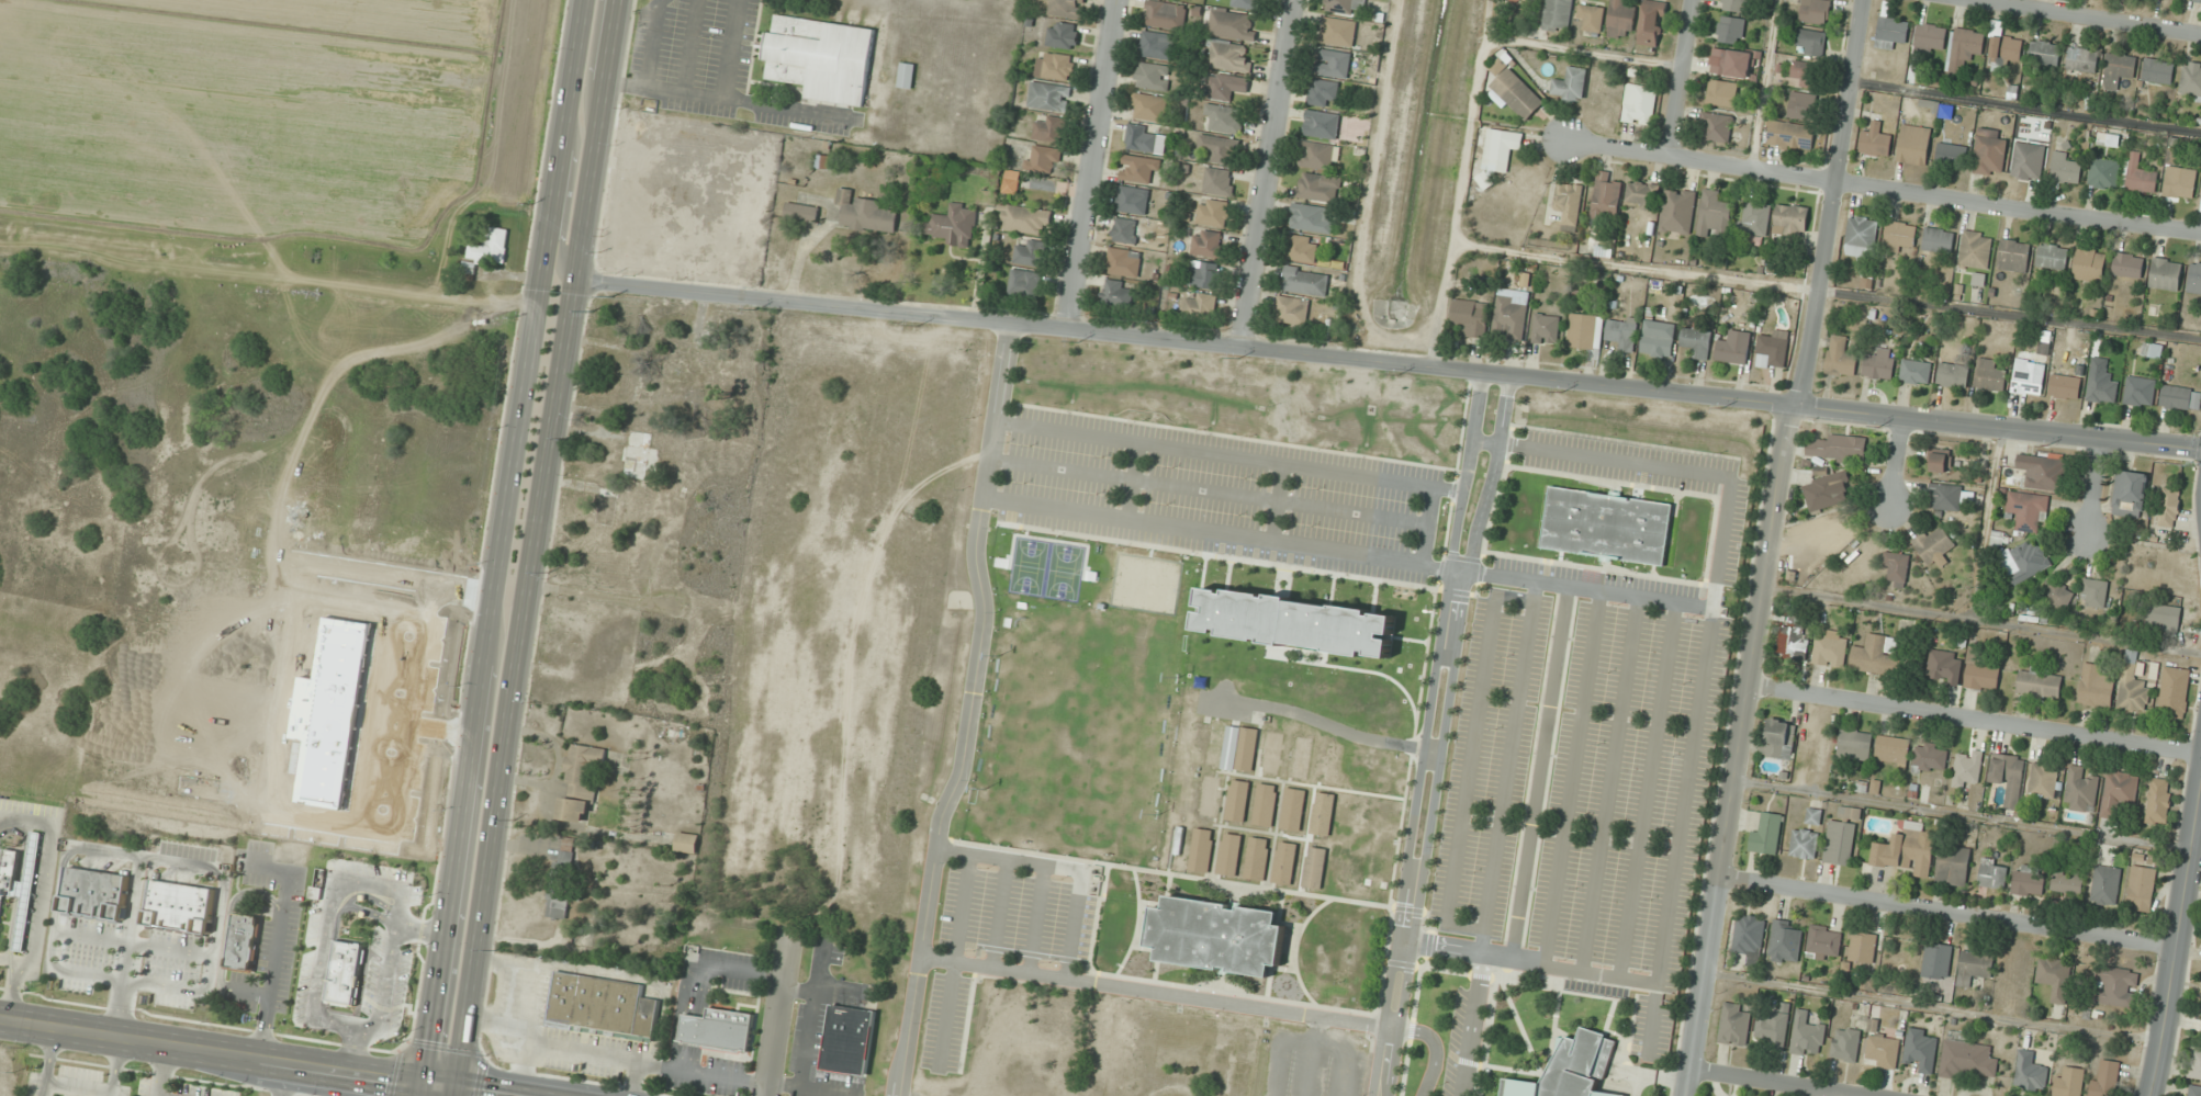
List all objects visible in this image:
building: (1515, 1)
building: (2198, 1)
building: (1247, 3)
building: (1736, 4)
building: (1346, 7)
building: (1067, 8)
building: (1816, 11)
building: (1166, 14)
building: (1558, 15)
road: (2088, 16)
building: (1592, 18)
building: (1620, 20)
building: (1652, 23)
building: (1232, 24)
building: (1730, 30)
building: (1339, 32)
building: (1890, 32)
building: (1064, 35)
building: (1929, 37)
building: (1811, 42)
building: (1157, 45)
building: (1963, 49)
building: (2006, 49)
road: (1583, 52)
building: (2044, 53)
building: (1228, 56)
building: (822, 58)
building: (2082, 58)
road: (592, 59)
building: (1334, 63)
building: (1734, 63)
building: (1056, 66)
building: (2118, 69)
building: (2157, 70)
building: (1804, 74)
building: (907, 75)
building: (1153, 76)
road: (1678, 78)
building: (2191, 80)
building: (1570, 84)
road: (1762, 84)
building: (1227, 86)
building: (1324, 92)
building: (1722, 92)
building: (1515, 93)
building: (1049, 97)
building: (1640, 104)
building: (1803, 105)
road: (2026, 105)
building: (1149, 106)
building: (1225, 117)
building: (1322, 124)
building: (1716, 126)
building: (1049, 127)
building: (1792, 135)
building: (1142, 138)
building: (1875, 140)
building: (1503, 144)
building: (1913, 144)
building: (1221, 148)
building: (1989, 152)
building: (1316, 155)
building: (1952, 155)
building: (1043, 159)
building: (2028, 160)
road: (1091, 166)
building: (2065, 168)
building: (1141, 169)
road: (1270, 174)
building: (2103, 176)
building: (2140, 176)
building: (2178, 176)
building: (1219, 181)
building: (1012, 182)
road: (1461, 184)
building: (1318, 187)
road: (1884, 190)
building: (1642, 194)
building: (1607, 197)
building: (1133, 200)
road: (566, 201)
building: (1569, 204)
building: (1677, 211)
building: (1213, 212)
building: (802, 213)
building: (866, 214)
building: (1715, 215)
building: (1755, 216)
building: (1312, 217)
building: (1025, 218)
building: (1792, 221)
building: (953, 224)
building: (1125, 230)
building: (1862, 234)
building: (1899, 236)
building: (1938, 240)
building: (1206, 242)
building: (492, 246)
building: (1303, 248)
building: (1975, 249)
building: (1031, 252)
building: (2013, 256)
building: (2053, 256)
building: (1124, 262)
building: (2088, 262)
building: (2129, 264)
building: (1204, 274)
building: (2166, 274)
building: (2194, 278)
building: (1306, 281)
building: (1025, 283)
road: (1828, 290)
building: (1118, 292)
building: (1201, 304)
building: (1292, 309)
building: (1511, 314)
building: (1471, 317)
building: (1546, 329)
building: (1585, 330)
building: (1622, 332)
building: (1698, 341)
building: (1659, 342)
building: (1733, 348)
building: (1773, 350)
building: (2153, 350)
building: (1841, 357)
building: (1879, 363)
road: (1388, 364)
building: (1916, 371)
building: (1953, 374)
building: (1990, 376)
building: (2029, 377)
building: (2065, 386)
building: (2101, 389)
building: (2140, 391)
building: (2176, 397)
road: (1236, 437)
road: (1613, 439)
building: (1838, 448)
road: (1228, 454)
road: (1896, 460)
building: (1941, 461)
building: (2043, 472)
road: (1132, 479)
road: (1453, 482)
road: (2093, 485)
road: (1653, 488)
building: (1826, 490)
road: (1208, 491)
building: (2130, 494)
building: (1951, 497)
road: (1277, 501)
building: (2169, 507)
road: (1492, 509)
building: (2026, 510)
road: (1986, 524)
road: (1426, 526)
building: (1605, 526)
building: (1831, 532)
road: (1217, 533)
road: (501, 540)
road: (532, 542)
building: (1934, 544)
road: (1770, 546)
road: (1223, 556)
building: (2024, 561)
park: (1026, 566)
road: (1596, 568)
building: (1896, 568)
park: (1063, 572)
road: (1581, 587)
building: (2093, 592)
building: (2055, 595)
building: (2164, 617)
road: (1981, 622)
building: (1294, 623)
building: (1793, 636)
road: (1705, 640)
building: (1830, 648)
building: (1876, 655)
building: (1944, 667)
building: (1981, 677)
building: (2039, 682)
building: (2132, 685)
building: (2096, 686)
building: (2174, 692)
road: (970, 711)
road: (1974, 718)
road: (1427, 735)
road: (1444, 735)
park: (1059, 738)
building: (1779, 738)
building: (1854, 743)
building: (1232, 747)
road: (1721, 748)
building: (1893, 750)
building: (1271, 753)
building: (1300, 757)
building: (1929, 757)
road: (1470, 759)
road: (1507, 766)
building: (1967, 770)
road: (1539, 771)
building: (2009, 776)
road: (1571, 778)
building: (2043, 780)
building: (582, 783)
road: (1609, 783)
road: (1647, 790)
building: (2080, 790)
building: (2119, 793)
building: (1210, 795)
building: (1237, 800)
building: (2158, 801)
building: (1265, 804)
building: (1293, 809)
building: (1850, 813)
road: (1962, 814)
building: (1813, 816)
building: (1767, 833)
building: (687, 843)
building: (1804, 843)
building: (1840, 843)
building: (1201, 849)
building: (1906, 851)
road: (953, 852)
road: (1030, 852)
building: (1229, 854)
building: (1257, 858)
road: (1021, 862)
building: (1284, 862)
building: (1953, 866)
building: (1992, 873)
building: (563, 878)
road: (1210, 879)
building: (2029, 880)
building: (2067, 881)
building: (2105, 884)
building: (20, 885)
building: (2141, 888)
building: (94, 893)
road: (372, 900)
building: (181, 907)
road: (1947, 912)
road: (998, 915)
road: (1036, 920)
road: (1136, 924)
road: (322, 931)
building: (1749, 935)
road: (422, 936)
building: (1215, 936)
building: (244, 941)
building: (1785, 941)
road: (2178, 941)
building: (1823, 942)
road: (1294, 947)
building: (1862, 947)
road: (400, 950)
road: (1526, 960)
building: (1936, 960)
road: (1481, 964)
building: (1974, 965)
building: (2055, 978)
building: (368, 984)
building: (2115, 986)
road: (1551, 988)
building: (510, 991)
road: (1160, 994)
road: (1273, 999)
road: (1414, 1001)
building: (600, 1006)
road: (1933, 1007)
road: (776, 1013)
road: (944, 1016)
road: (966, 1019)
road: (333, 1022)
building: (1734, 1025)
building: (719, 1029)
building: (1773, 1029)
road: (362, 1035)
road: (1471, 1036)
road: (1621, 1036)
building: (1807, 1036)
road: (1484, 1037)
building: (849, 1039)
building: (510, 1044)
building: (1845, 1044)
building: (1882, 1048)
road: (211, 1049)
building: (1920, 1049)
road: (351, 1051)
road: (1434, 1051)
building: (1187, 1053)
road: (1531, 1053)
building: (1965, 1057)
building: (2194, 1063)
road: (160, 1069)
building: (1569, 1069)
building: (2030, 1072)
road: (282, 1078)
building: (2105, 1078)
road: (1776, 1082)
building: (2068, 1082)
road: (438, 1084)
traffic signals: (453, 1086)
road: (420, 1088)
road: (452, 1091)
road: (483, 1091)
building: (2194, 1091)
road: (155, 1095)
road: (158, 1095)

